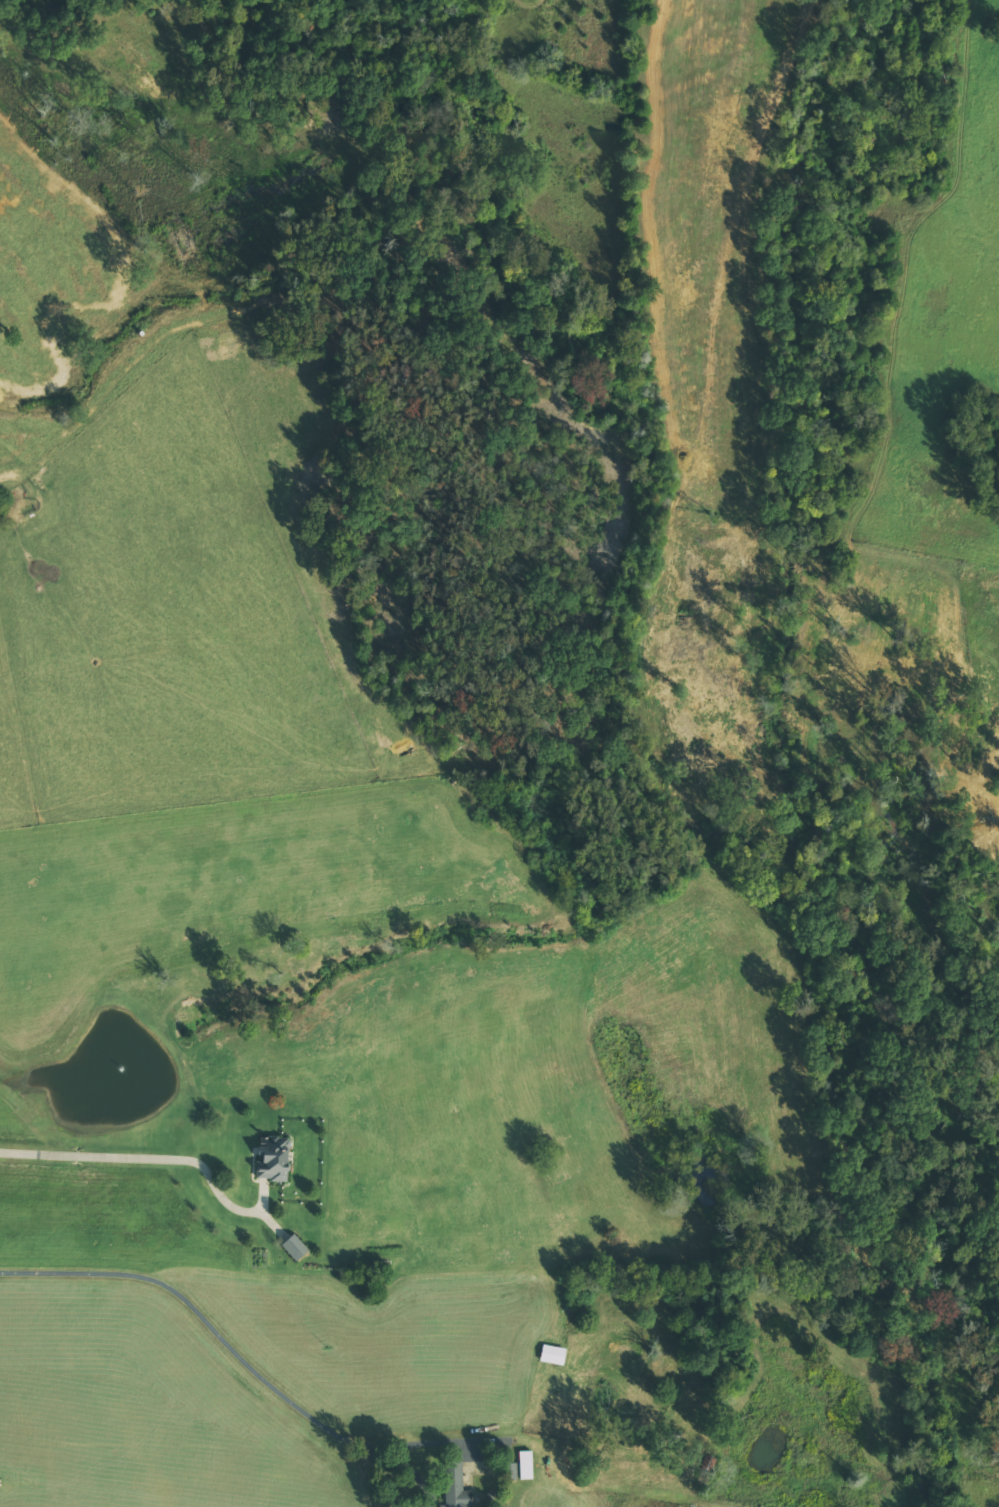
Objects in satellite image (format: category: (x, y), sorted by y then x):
building: (273, 1160)
building: (294, 1247)
building: (552, 1354)
building: (510, 1470)
building: (455, 1485)

